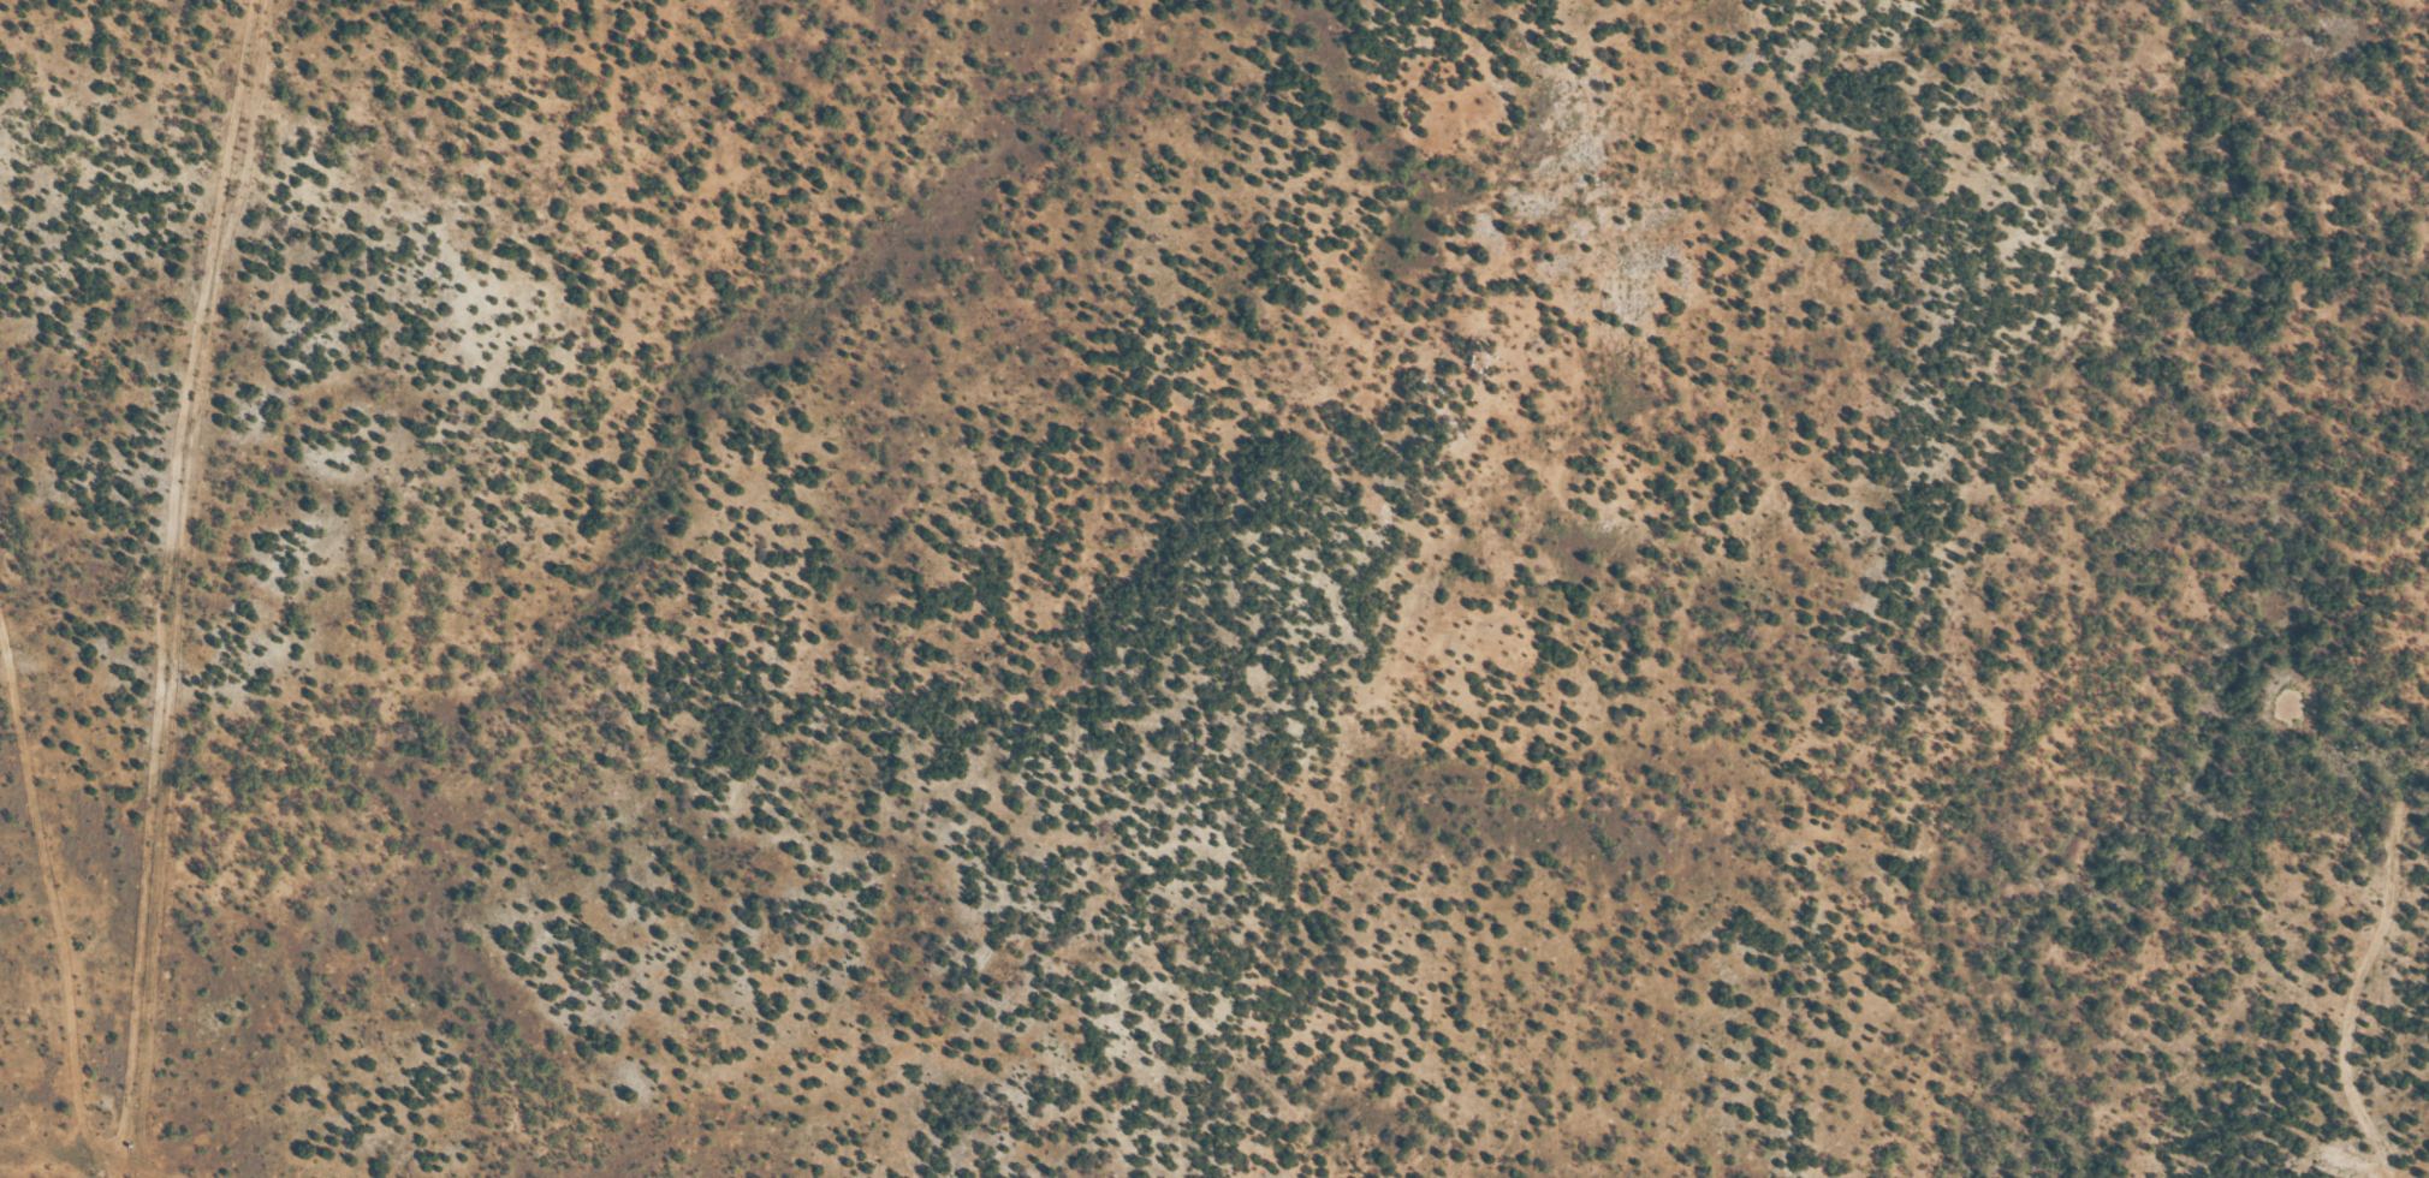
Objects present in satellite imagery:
road: (2372, 982)
road: (37, 1043)
road: (669, 1052)

